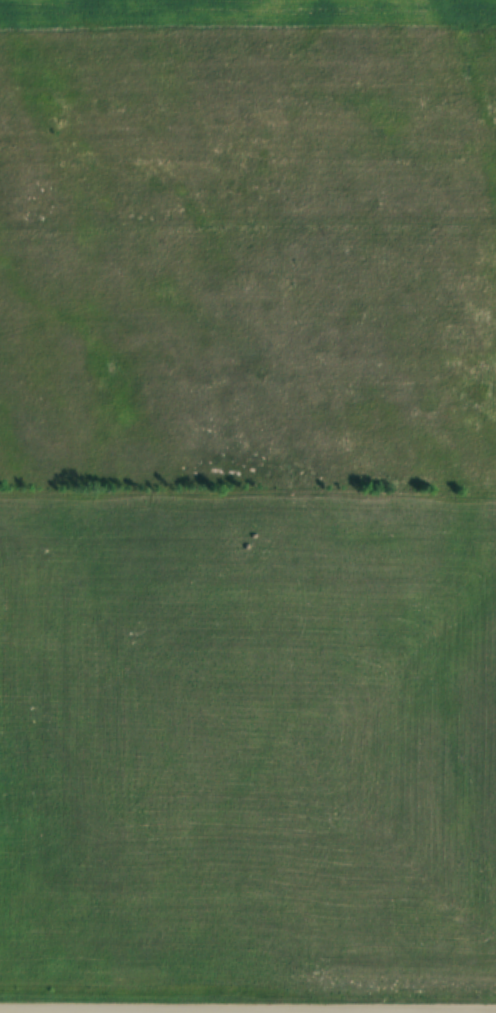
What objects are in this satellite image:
road: (206, 1012)

